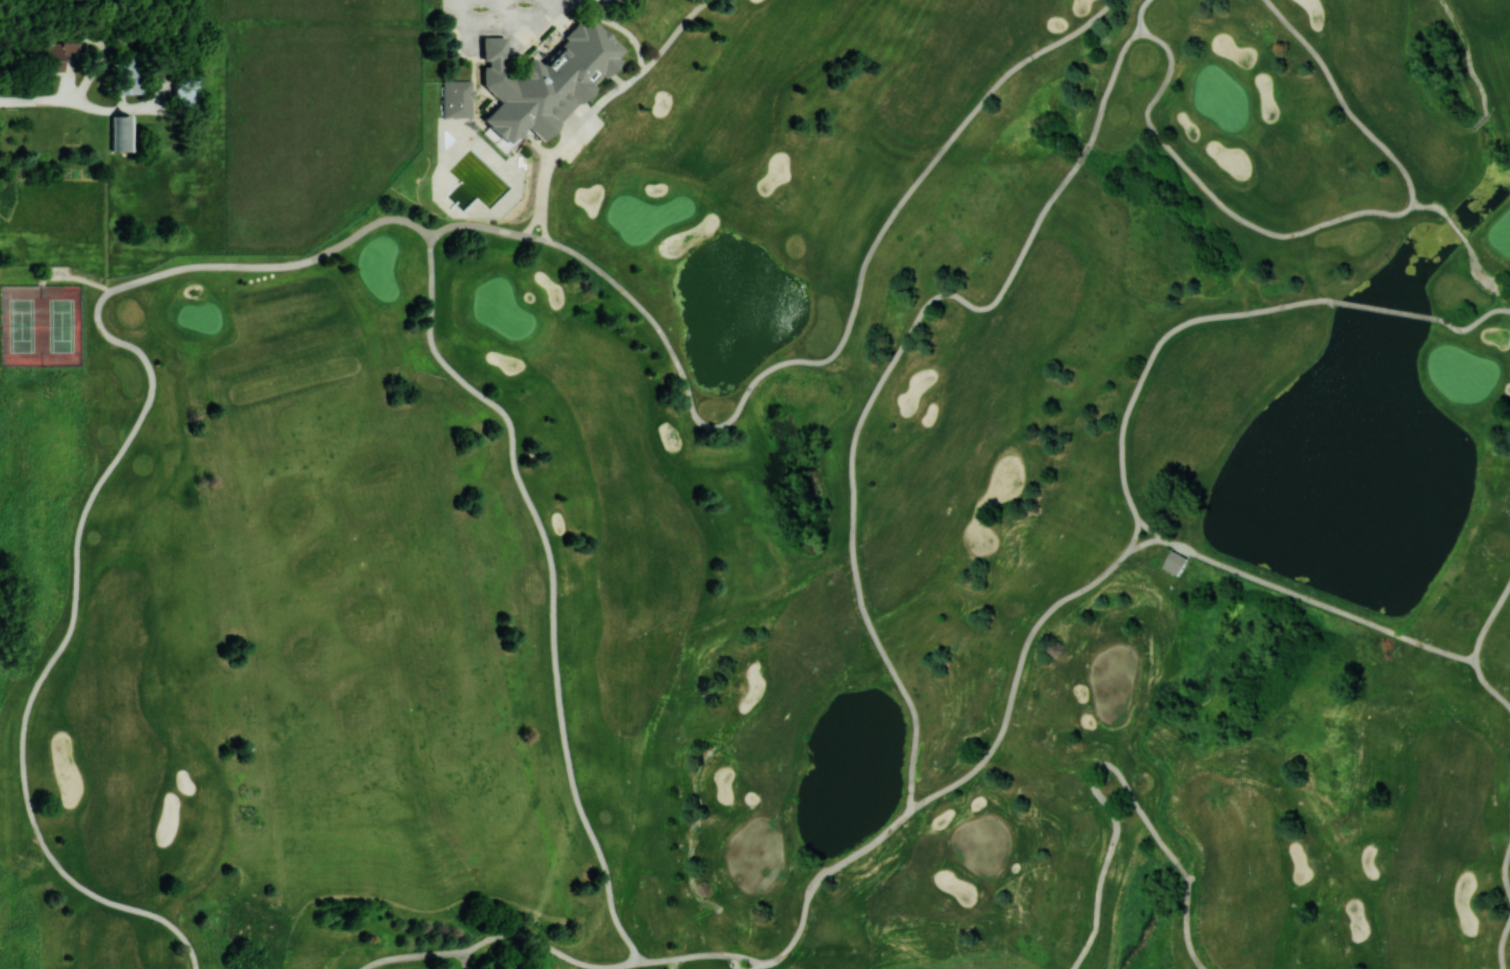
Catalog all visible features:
parking lot: (609, 2)
parking lot: (477, 9)
road: (1141, 15)
road: (509, 20)
road: (626, 29)
road: (675, 34)
road: (95, 39)
building: (496, 51)
building: (49, 54)
road: (90, 73)
building: (128, 74)
road: (71, 78)
road: (1110, 83)
building: (553, 84)
building: (184, 90)
road: (160, 91)
building: (458, 99)
road: (35, 100)
road: (1483, 117)
road: (580, 123)
building: (121, 132)
road: (1084, 153)
building: (513, 168)
road: (1426, 205)
road: (535, 216)
road: (544, 217)
road: (1328, 220)
road: (475, 225)
road: (1455, 227)
road: (535, 237)
road: (1385, 309)
road: (916, 320)
road: (846, 333)
road: (1158, 344)
park: (817, 346)
road: (552, 562)
building: (1175, 562)

